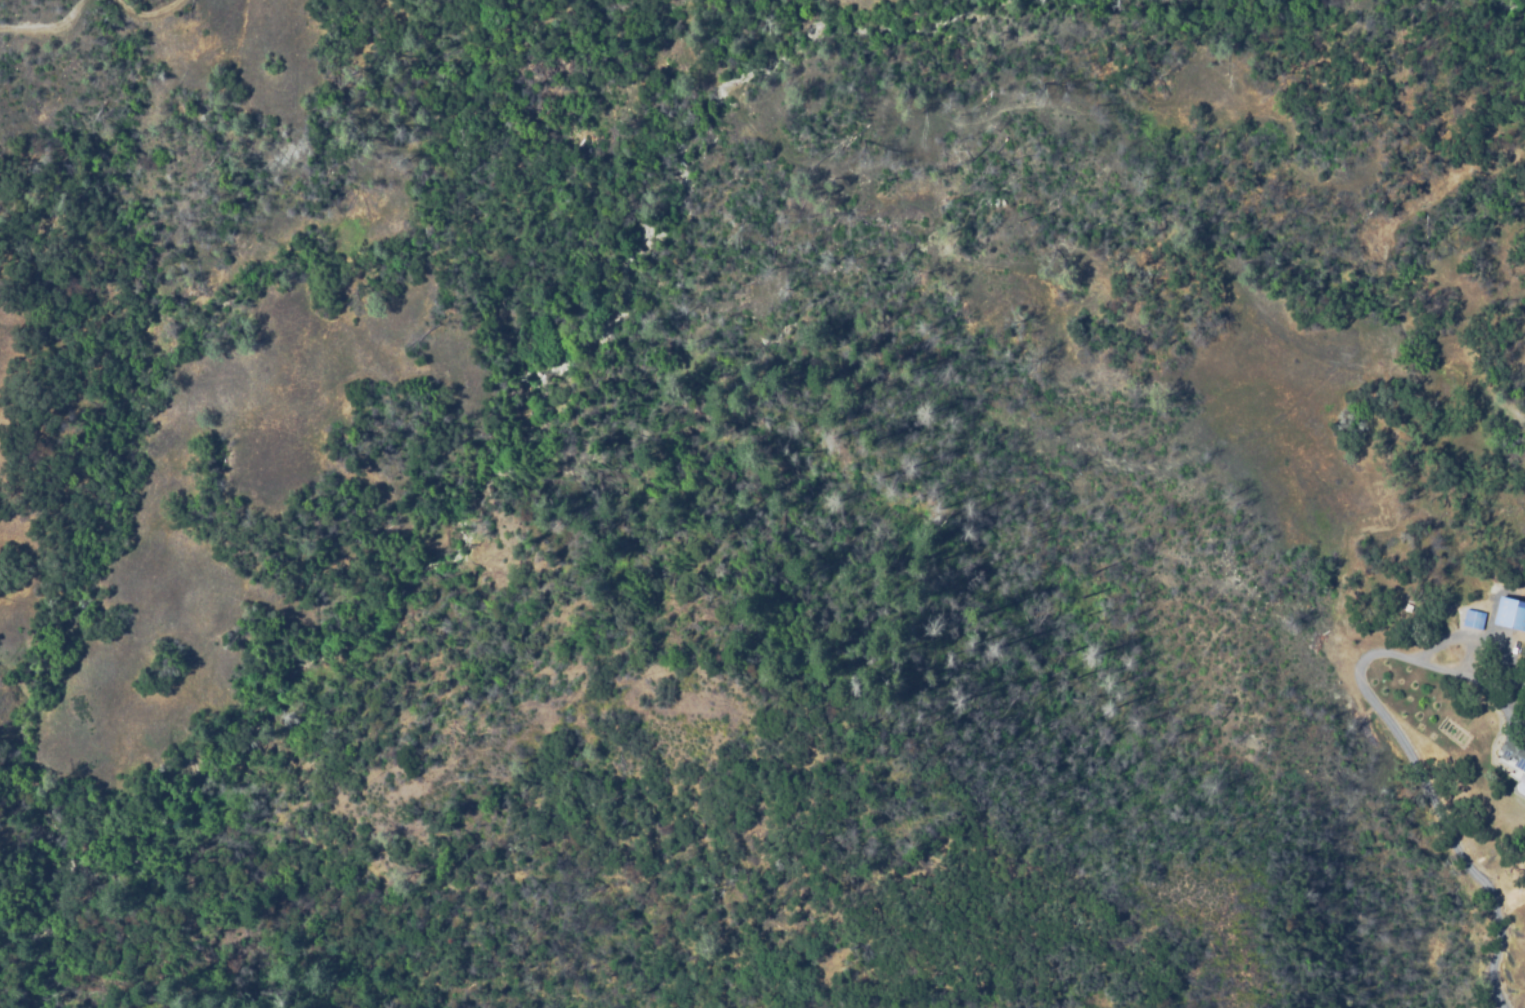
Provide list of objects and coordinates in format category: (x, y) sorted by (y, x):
building: (1479, 612)
building: (1509, 615)
building: (1513, 753)
road: (1430, 793)

